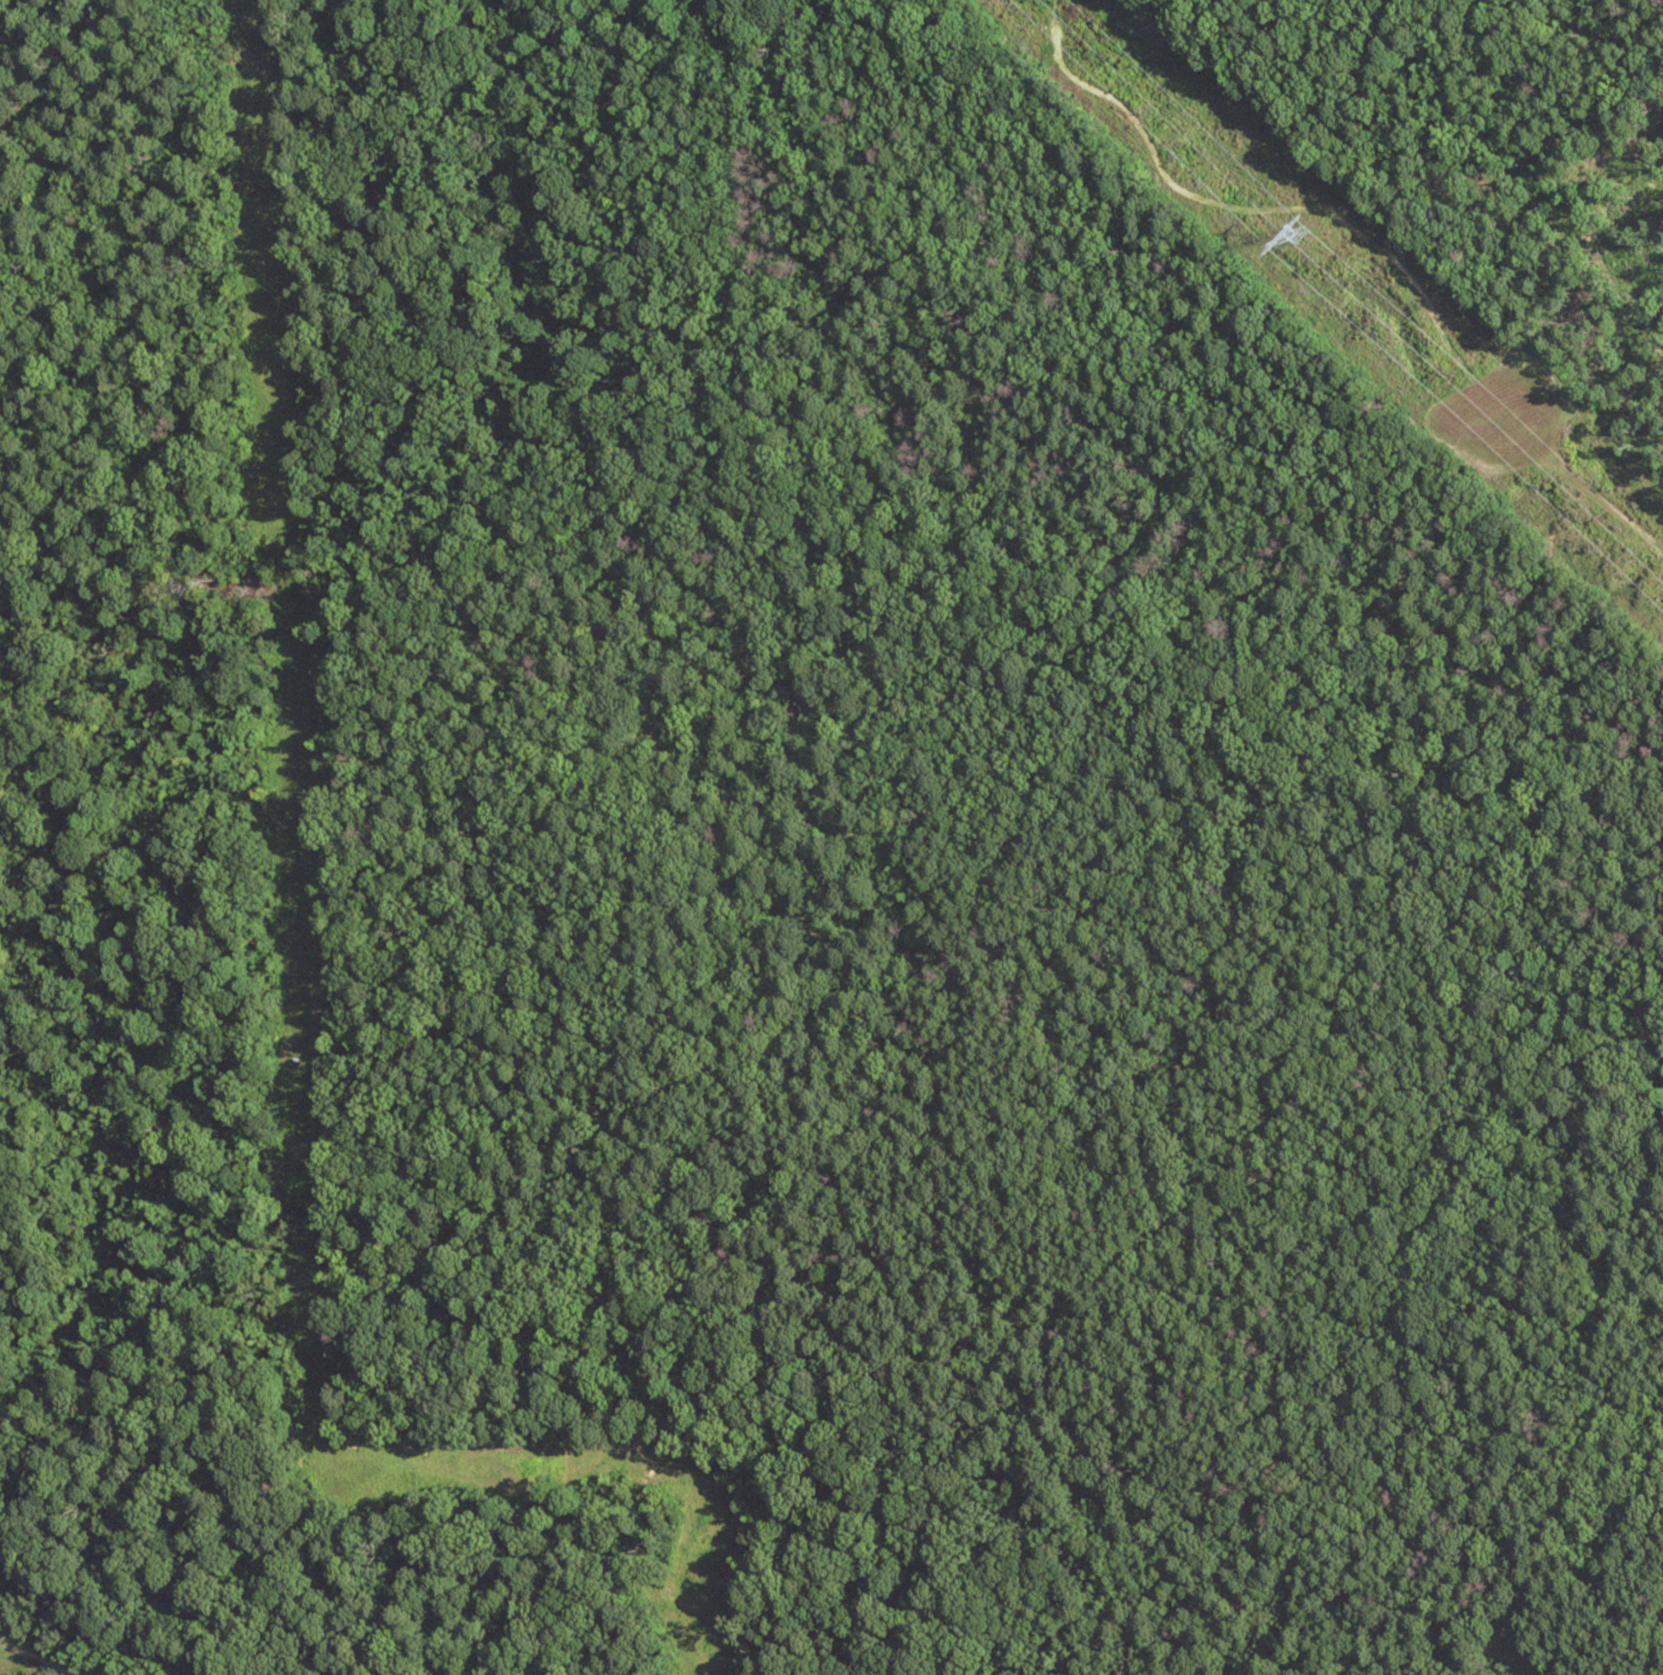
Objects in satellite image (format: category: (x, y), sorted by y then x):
power tower: (1284, 233)

